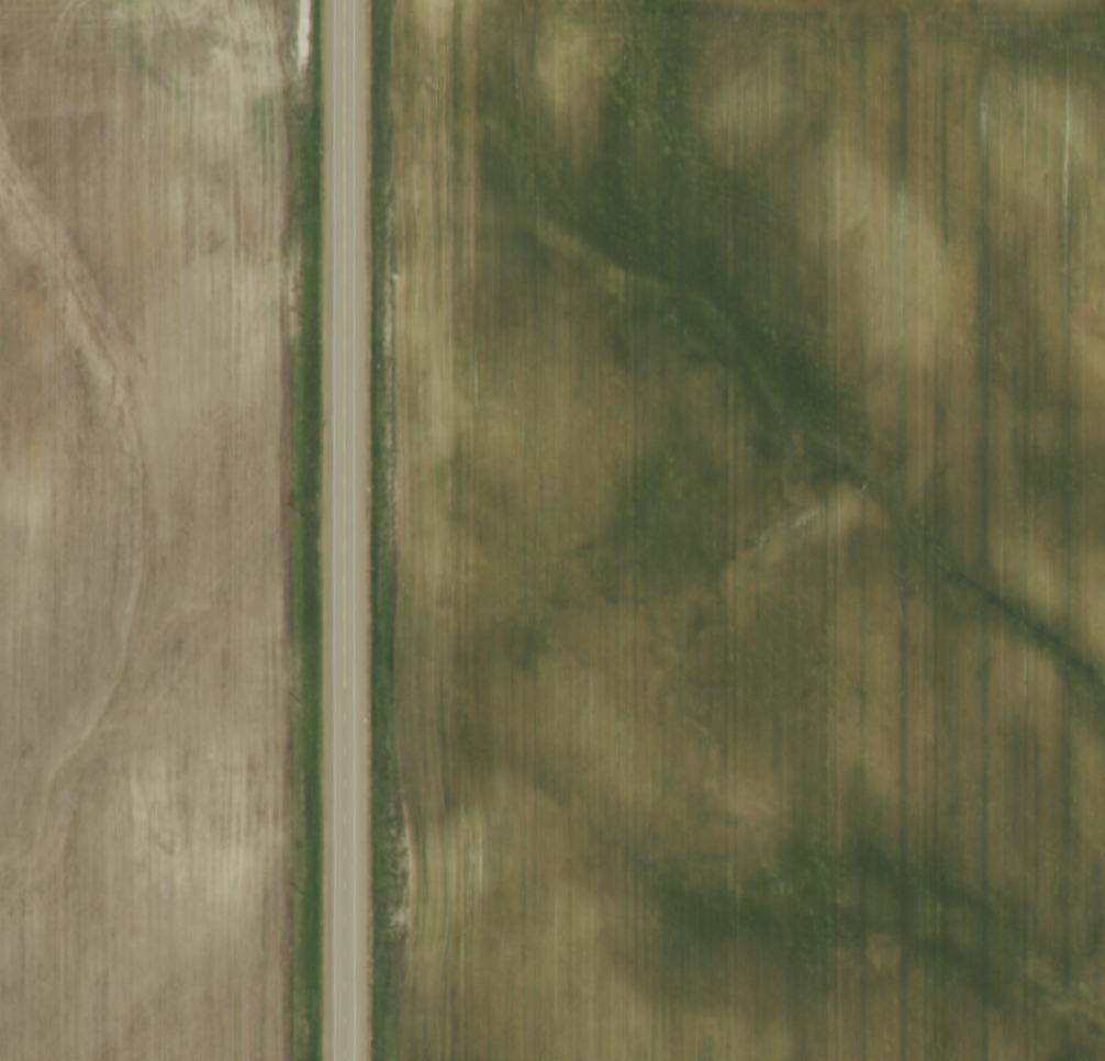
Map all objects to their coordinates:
road: (348, 530)

